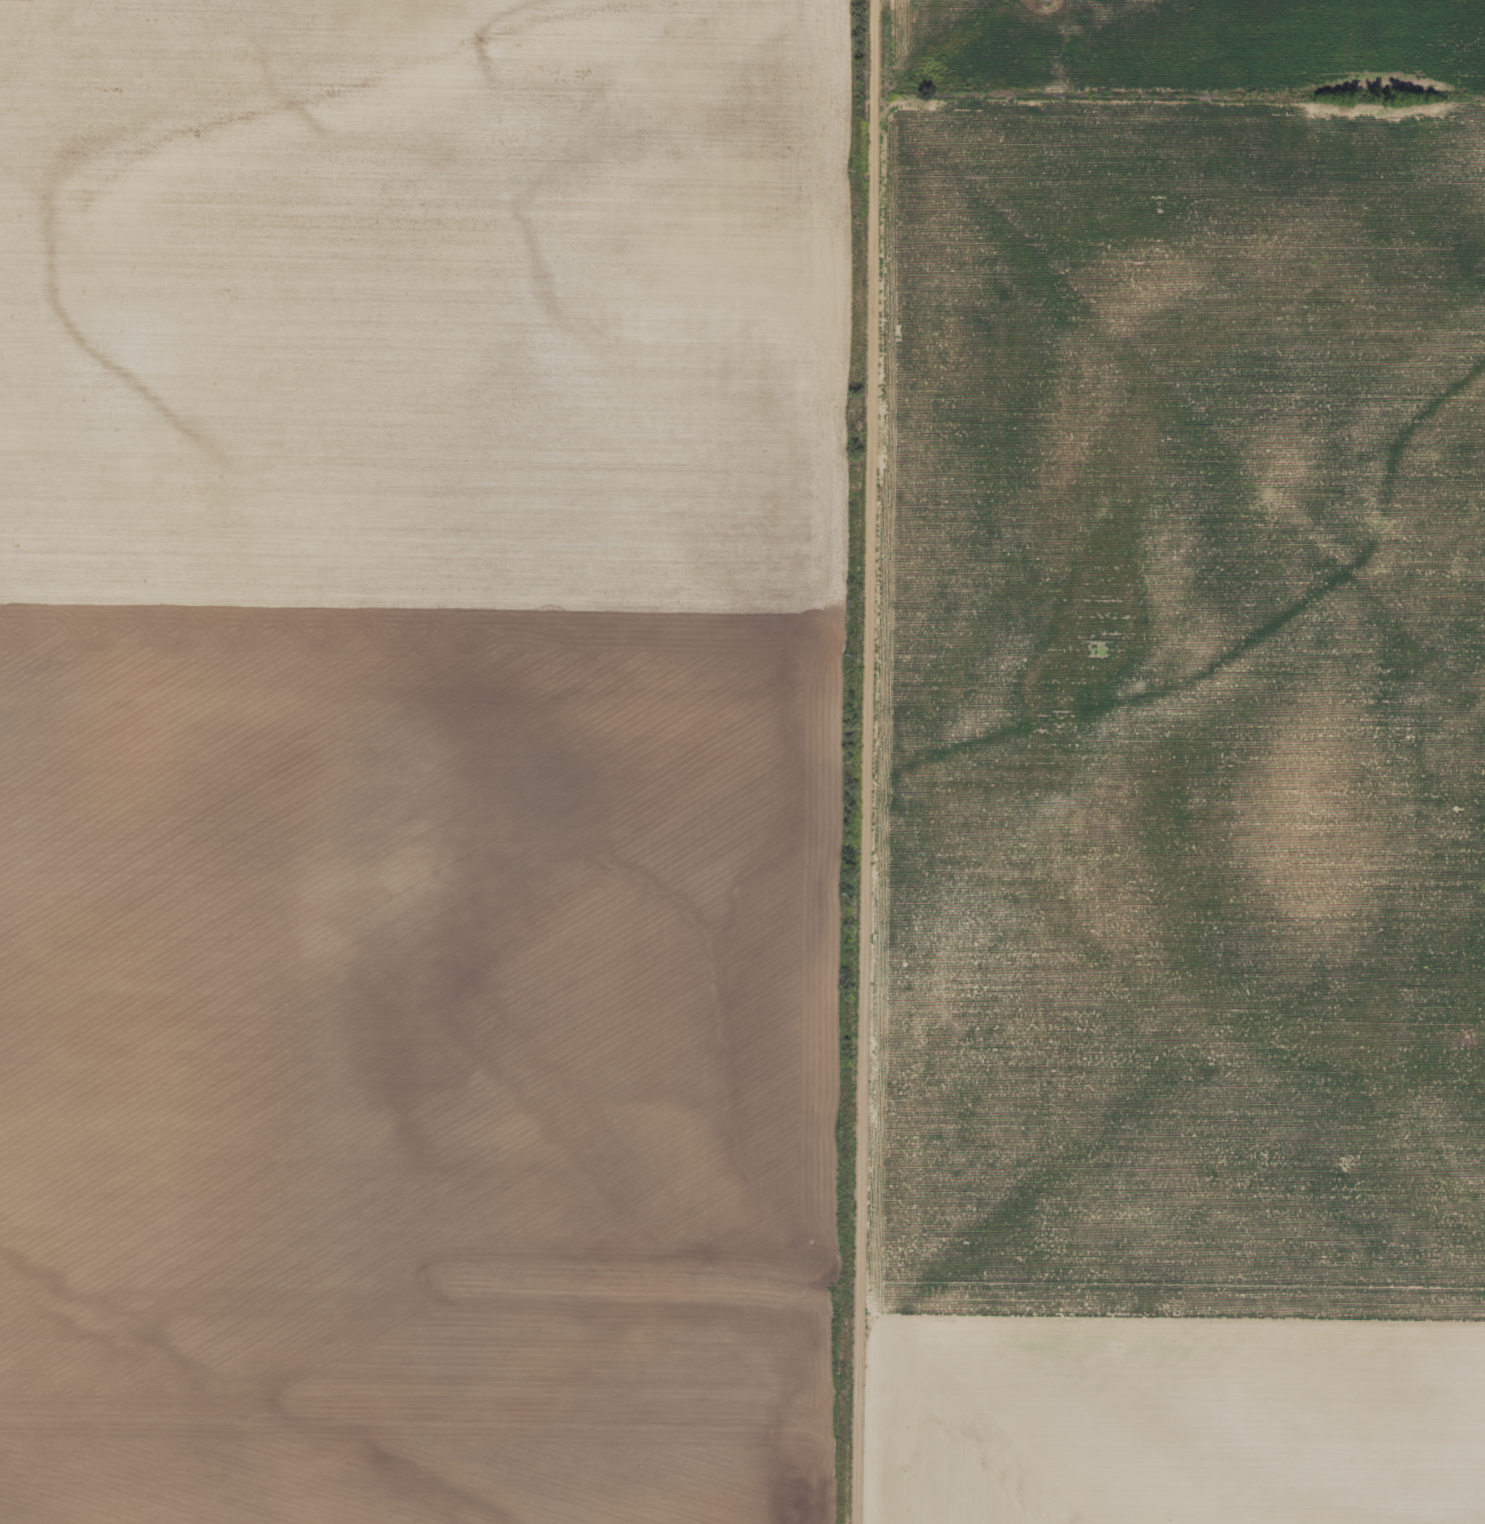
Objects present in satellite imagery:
road: (870, 762)

